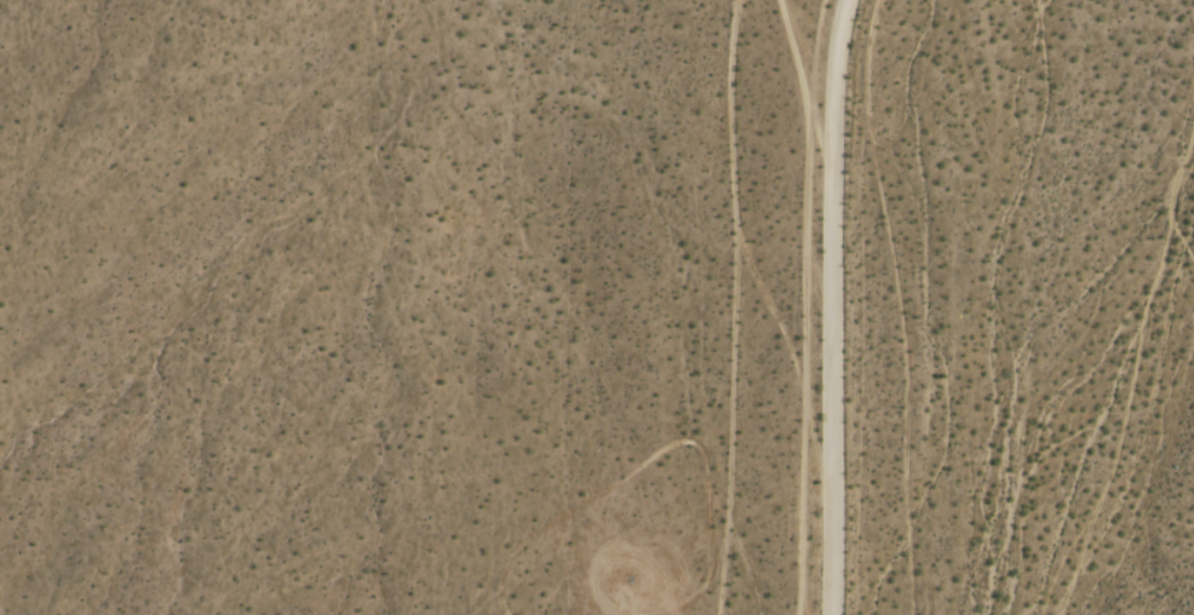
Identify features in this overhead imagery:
road: (831, 306)

